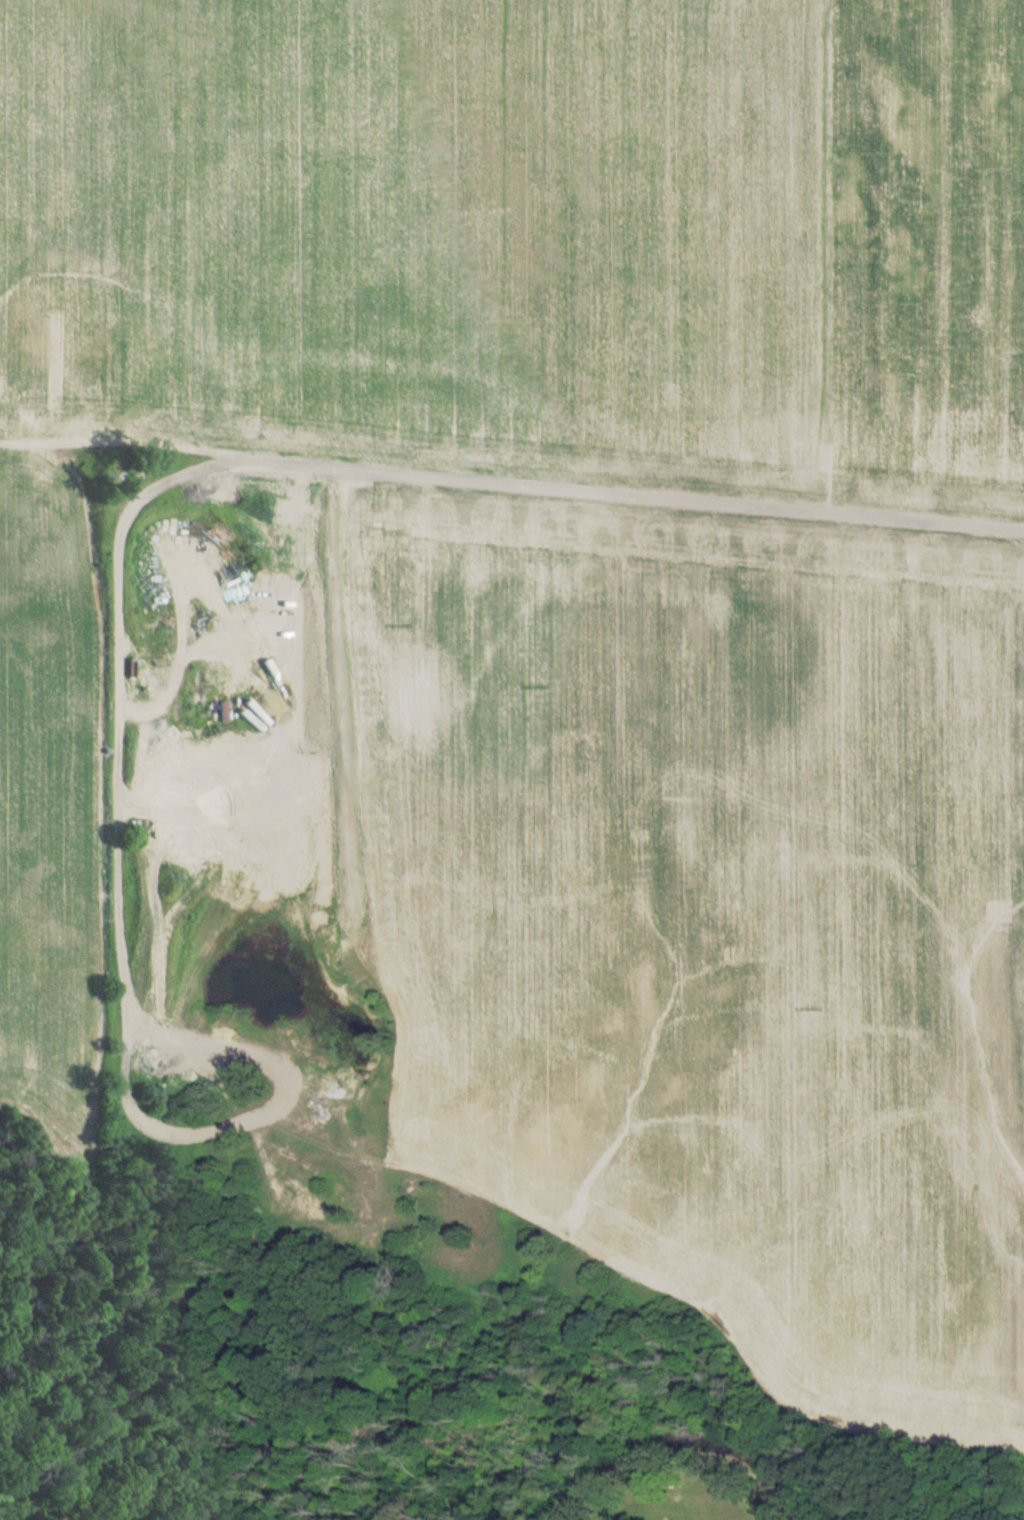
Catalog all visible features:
road: (141, 438)

